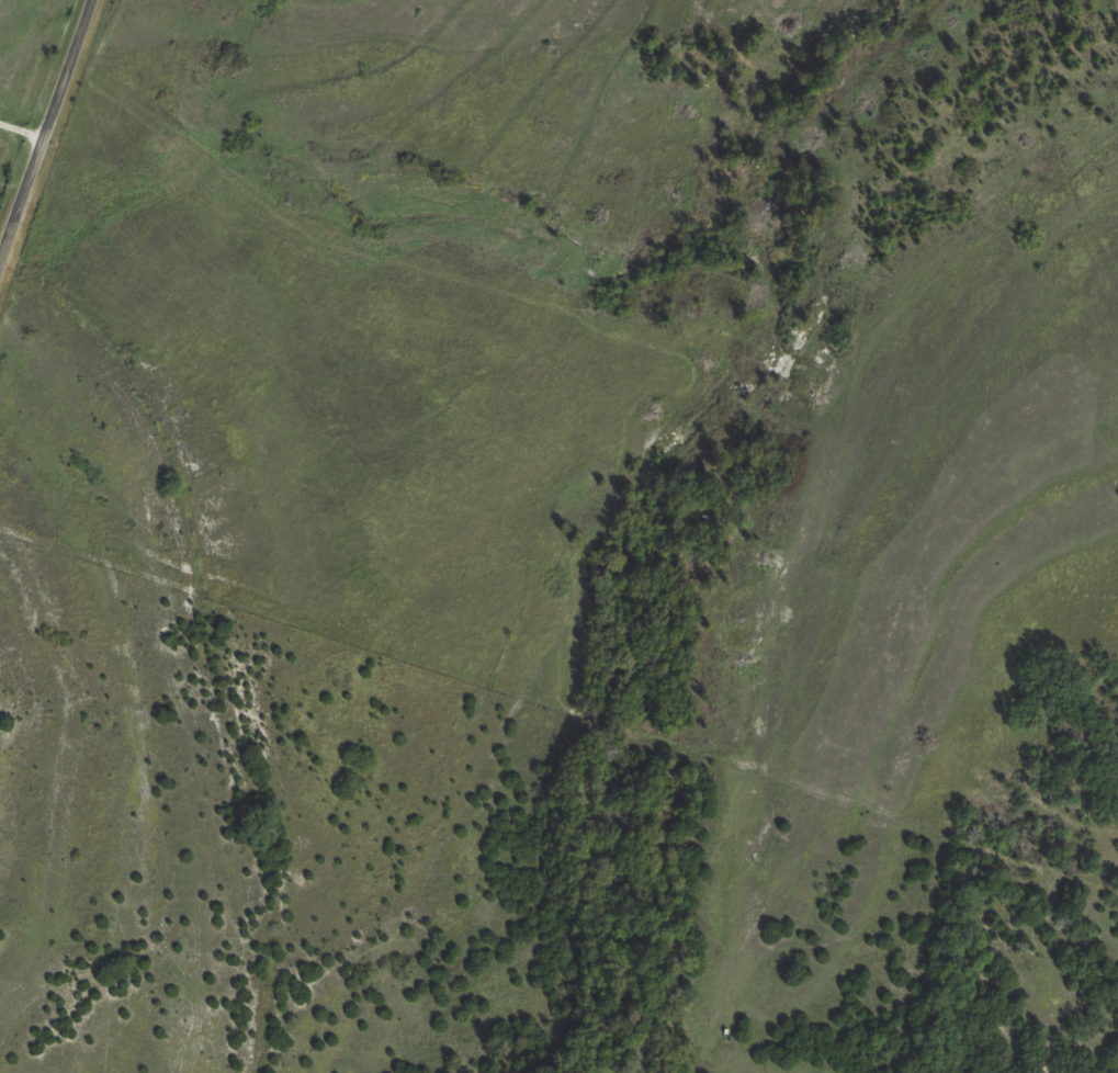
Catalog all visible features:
road: (44, 128)
road: (20, 131)

